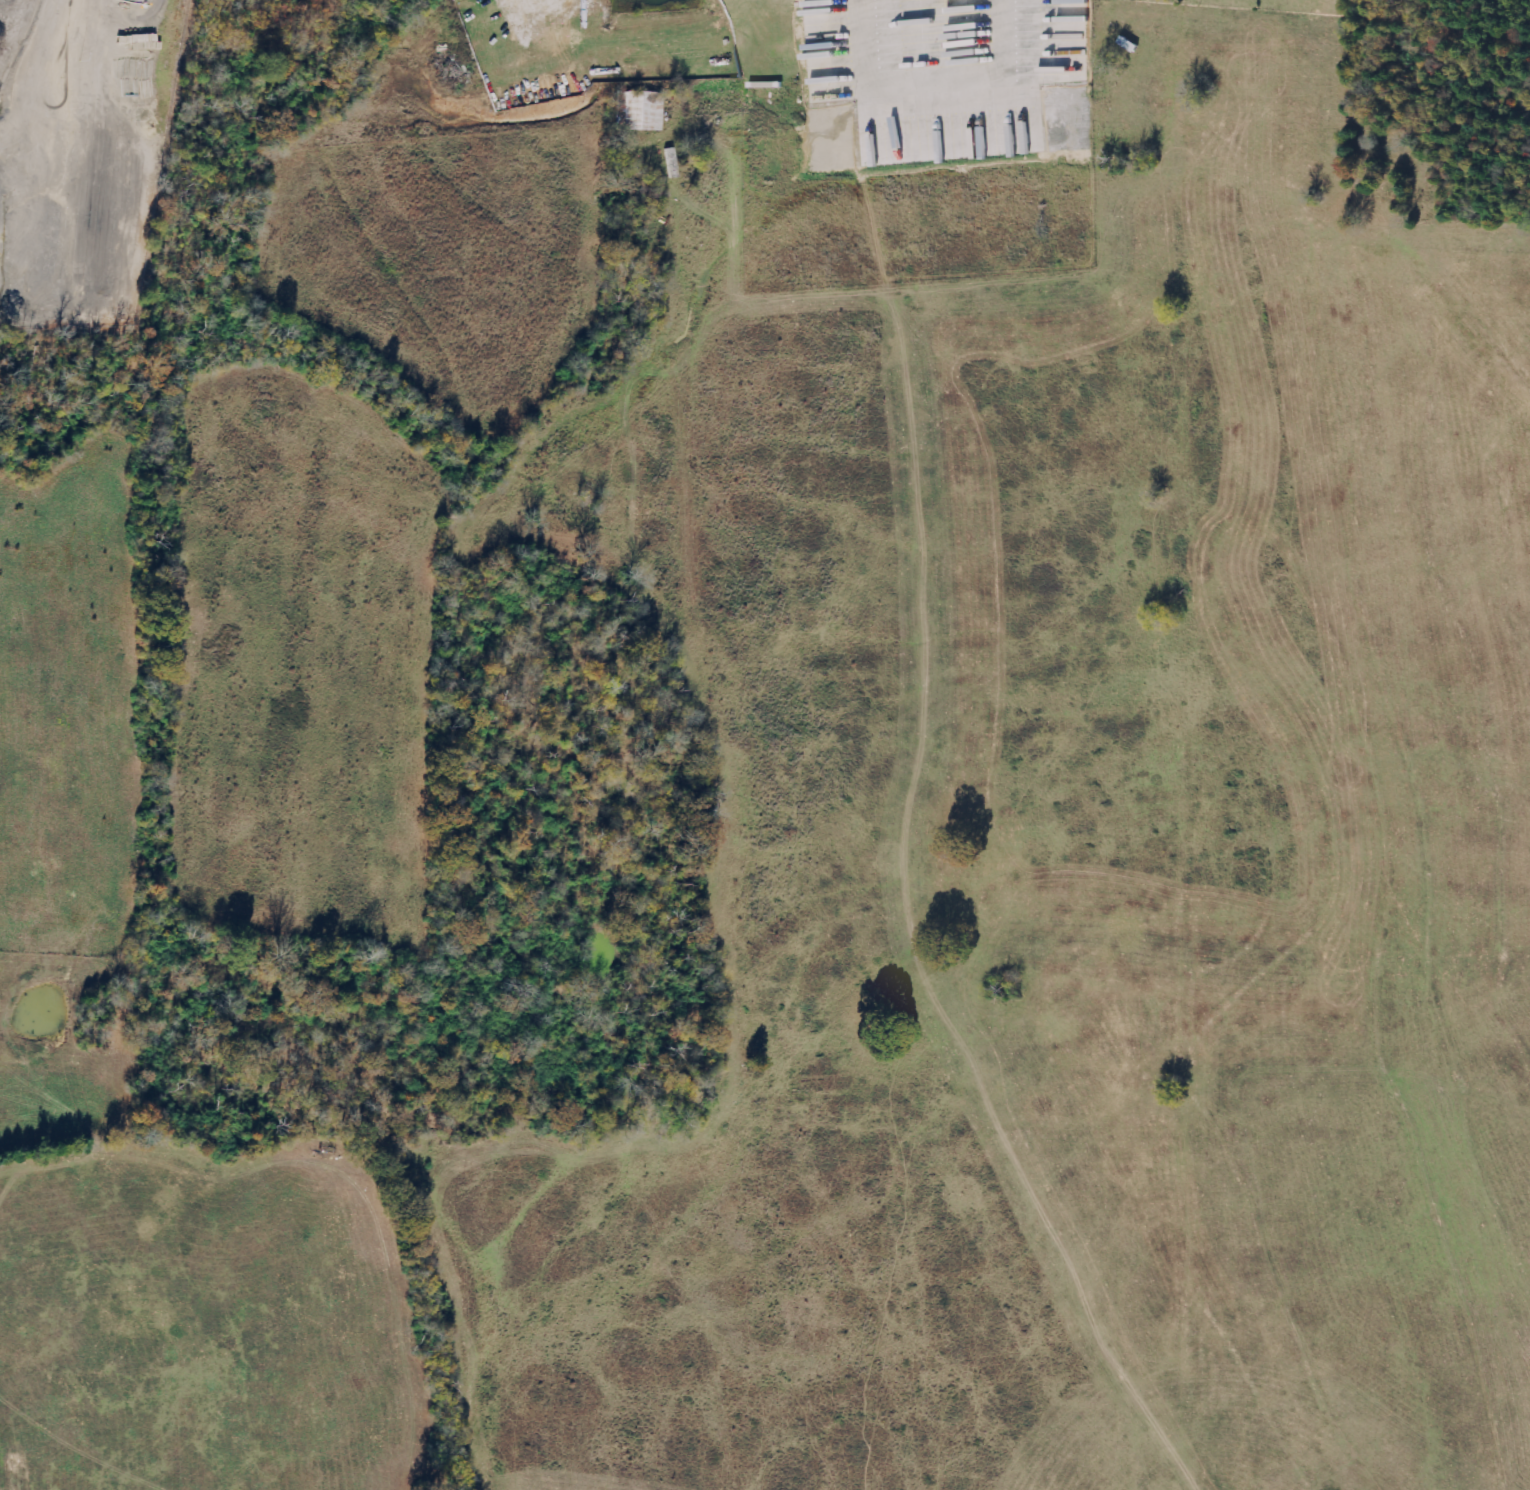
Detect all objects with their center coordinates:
building: (639, 110)

